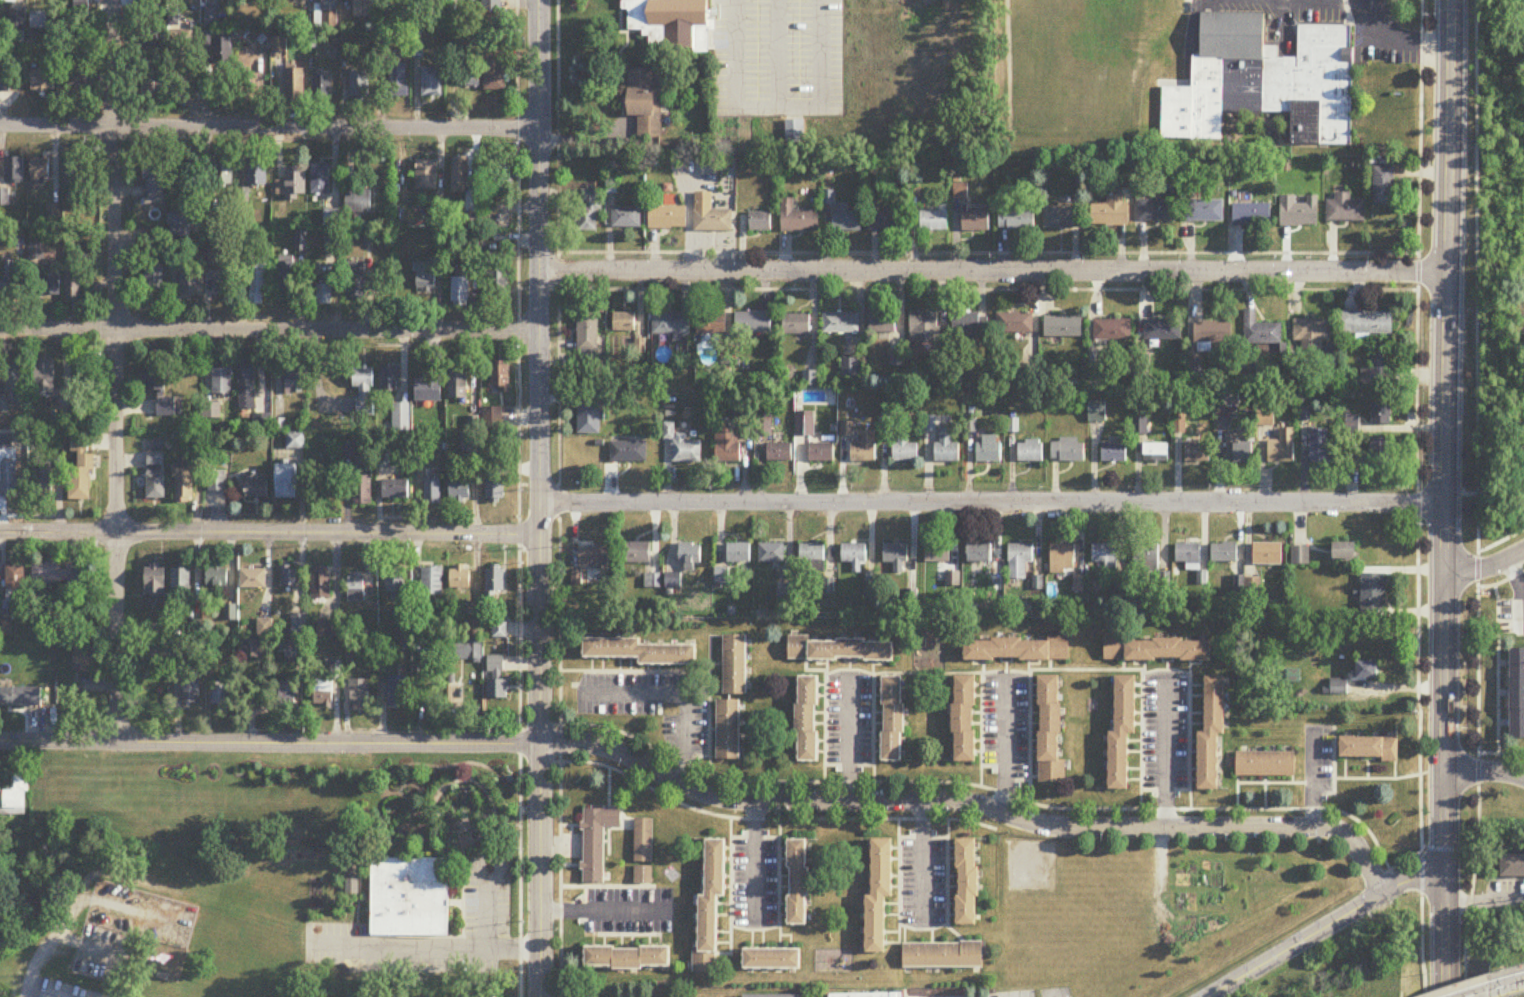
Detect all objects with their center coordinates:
building: (435, 0)
building: (143, 3)
building: (86, 5)
building: (491, 5)
building: (362, 9)
building: (328, 16)
building: (16, 20)
building: (37, 21)
building: (671, 23)
road: (1394, 41)
building: (279, 45)
road: (777, 54)
building: (495, 70)
building: (80, 73)
building: (471, 79)
building: (1272, 79)
building: (43, 80)
building: (398, 81)
building: (431, 83)
building: (5, 84)
building: (320, 85)
building: (295, 86)
building: (359, 88)
building: (152, 89)
building: (645, 103)
road: (776, 108)
road: (269, 128)
building: (794, 132)
building: (14, 170)
building: (40, 170)
building: (502, 171)
building: (223, 175)
building: (257, 175)
building: (426, 176)
building: (460, 176)
building: (74, 180)
building: (319, 180)
building: (154, 184)
building: (292, 184)
building: (1384, 187)
building: (4, 198)
building: (358, 202)
building: (1345, 210)
building: (588, 211)
building: (1156, 212)
building: (1204, 212)
building: (1111, 213)
building: (1299, 213)
building: (1252, 215)
building: (710, 216)
building: (933, 217)
building: (331, 218)
building: (626, 218)
building: (667, 218)
building: (1062, 218)
building: (798, 219)
building: (846, 219)
building: (975, 220)
building: (759, 221)
building: (887, 221)
building: (1017, 221)
building: (179, 226)
building: (155, 244)
building: (332, 246)
building: (36, 251)
road: (987, 253)
road: (992, 273)
building: (285, 275)
building: (154, 276)
building: (425, 278)
building: (8, 279)
building: (50, 281)
building: (223, 281)
building: (259, 283)
building: (498, 284)
building: (190, 285)
building: (73, 287)
building: (355, 287)
road: (967, 290)
building: (461, 292)
building: (323, 294)
building: (624, 323)
building: (752, 323)
building: (840, 323)
building: (882, 323)
building: (1014, 324)
building: (1367, 324)
building: (711, 325)
building: (796, 325)
building: (968, 325)
building: (672, 326)
building: (1063, 327)
building: (924, 328)
building: (1162, 330)
road: (269, 331)
building: (1110, 331)
building: (1259, 331)
building: (588, 333)
building: (1212, 334)
building: (1312, 334)
road: (517, 367)
building: (850, 368)
building: (1377, 370)
road: (116, 371)
road: (558, 373)
building: (46, 377)
building: (390, 379)
building: (500, 379)
building: (294, 381)
building: (16, 382)
building: (221, 382)
building: (458, 382)
building: (246, 386)
building: (430, 386)
building: (158, 389)
building: (363, 390)
building: (211, 411)
building: (1382, 413)
building: (588, 420)
building: (59, 422)
building: (261, 422)
building: (804, 424)
building: (1139, 428)
road: (1444, 428)
building: (846, 429)
building: (295, 441)
building: (6, 443)
building: (683, 448)
building: (904, 448)
building: (946, 448)
building: (1283, 448)
building: (1322, 448)
building: (727, 449)
building: (864, 449)
building: (989, 449)
building: (1067, 451)
building: (1029, 452)
building: (1240, 452)
building: (627, 453)
building: (821, 453)
building: (1113, 453)
building: (1197, 453)
building: (778, 454)
building: (1156, 454)
building: (1381, 457)
building: (383, 460)
building: (80, 469)
building: (155, 476)
building: (42, 479)
building: (9, 482)
building: (216, 482)
building: (286, 482)
building: (183, 483)
building: (362, 487)
building: (255, 488)
building: (495, 489)
building: (394, 490)
building: (460, 491)
building: (433, 493)
road: (1460, 494)
road: (1416, 497)
road: (539, 498)
road: (1477, 500)
road: (991, 504)
road: (269, 535)
road: (1500, 542)
building: (1346, 553)
building: (636, 554)
building: (771, 554)
building: (811, 554)
building: (979, 554)
building: (1224, 554)
building: (737, 555)
building: (937, 555)
building: (1187, 555)
building: (1268, 555)
building: (690, 556)
building: (853, 556)
building: (1105, 556)
building: (895, 557)
building: (1301, 557)
building: (594, 558)
building: (1146, 558)
building: (1062, 559)
building: (1019, 561)
road: (1484, 569)
building: (58, 575)
building: (216, 577)
building: (290, 577)
building: (461, 578)
building: (252, 579)
building: (180, 580)
building: (720, 580)
building: (432, 581)
building: (155, 582)
building: (394, 582)
building: (15, 583)
building: (320, 583)
building: (494, 584)
building: (357, 588)
building: (1374, 593)
building: (298, 625)
building: (264, 627)
building: (328, 629)
building: (474, 630)
building: (499, 631)
building: (256, 649)
building: (1017, 650)
building: (1155, 650)
building: (468, 651)
building: (839, 651)
building: (432, 652)
building: (642, 653)
building: (294, 654)
building: (83, 658)
building: (158, 658)
building: (734, 665)
building: (336, 670)
building: (1368, 671)
building: (496, 679)
building: (1338, 687)
building: (399, 691)
building: (189, 692)
road: (681, 693)
building: (324, 694)
building: (285, 695)
building: (360, 695)
building: (1518, 695)
building: (20, 698)
building: (220, 698)
building: (258, 702)
building: (808, 720)
building: (894, 720)
building: (965, 720)
road: (541, 728)
building: (727, 731)
building: (1051, 731)
building: (1123, 733)
building: (1214, 735)
road: (848, 742)
road: (269, 743)
road: (1002, 750)
building: (1370, 750)
road: (1165, 756)
building: (1267, 765)
road: (1484, 772)
road: (1316, 782)
building: (15, 799)
road: (973, 806)
road: (520, 840)
building: (596, 842)
building: (644, 842)
road: (920, 855)
road: (753, 858)
park: (1033, 867)
building: (1513, 867)
building: (643, 876)
building: (798, 884)
building: (968, 884)
building: (880, 897)
building: (409, 898)
road: (487, 901)
road: (1484, 901)
road: (602, 909)
building: (711, 910)
road: (1327, 927)
road: (1445, 927)
road: (423, 948)
building: (944, 957)
building: (629, 959)
building: (773, 961)
building: (98, 971)
road: (1505, 987)
park: (1055, 992)
road: (36, 993)
road: (1483, 995)
building: (871, 996)

